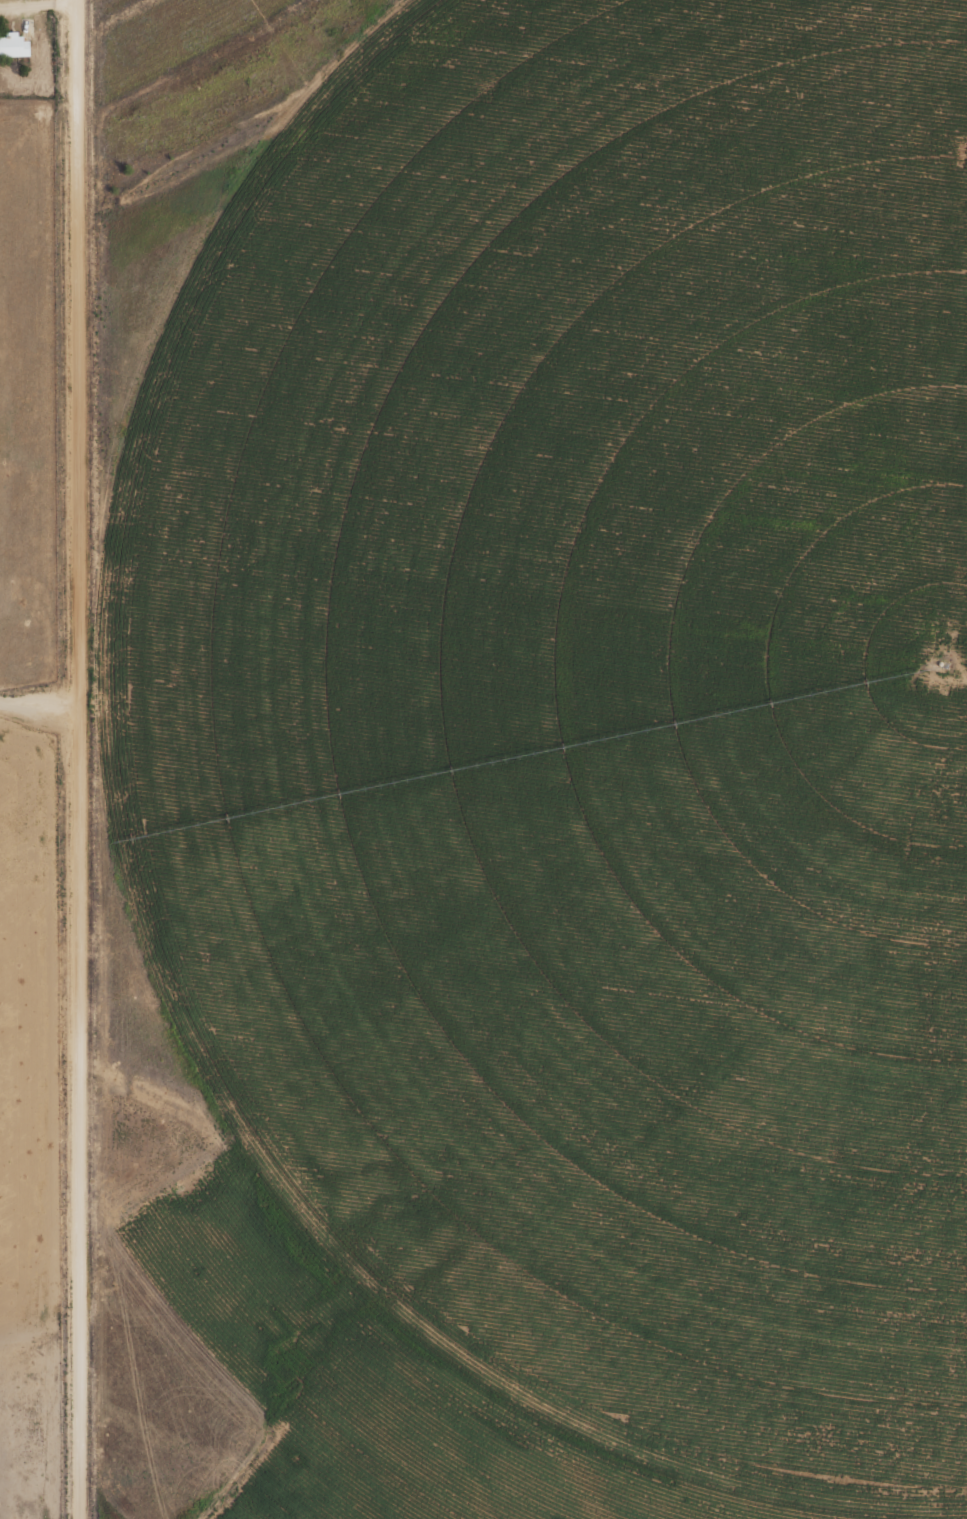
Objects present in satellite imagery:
road: (36, 3)
road: (39, 701)
road: (79, 759)
crop: (568, 764)
road: (119, 1250)

